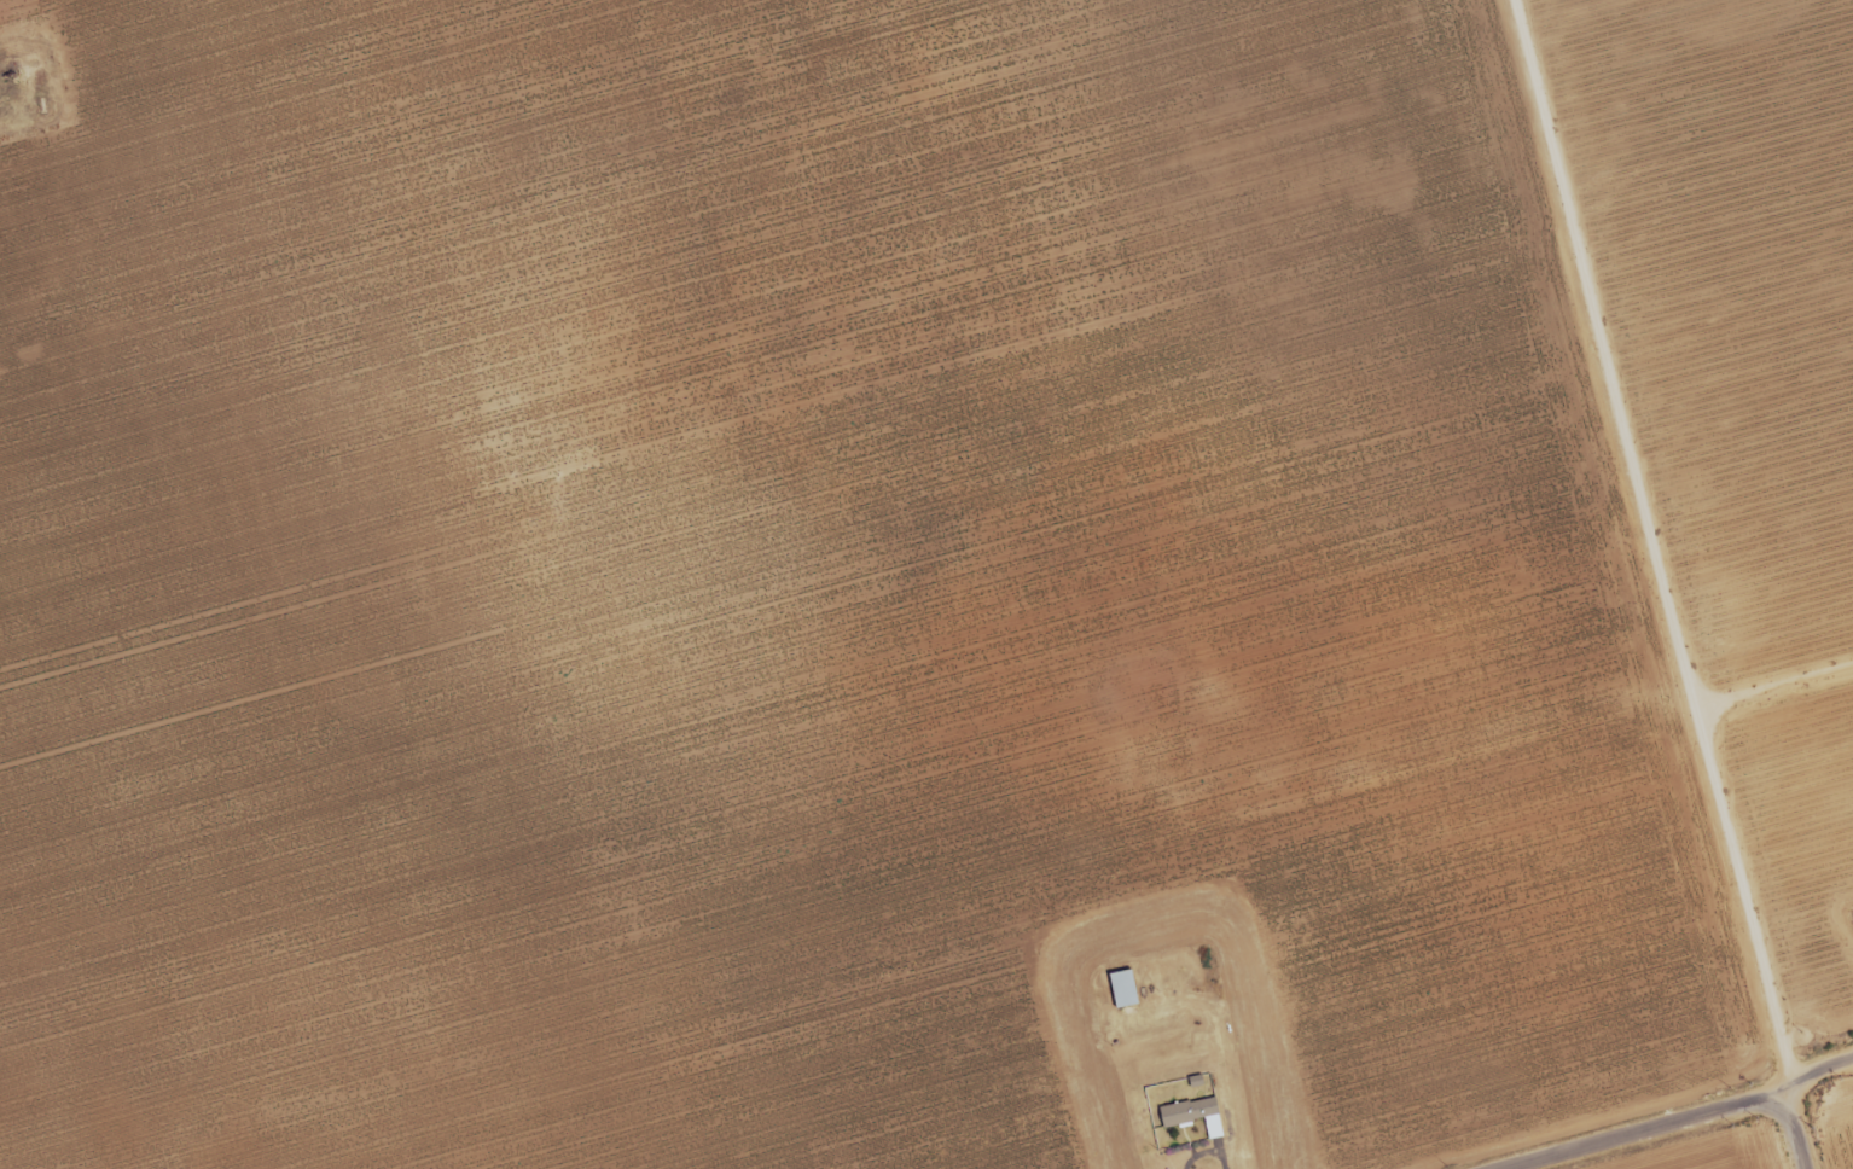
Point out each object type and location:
road: (1651, 543)
building: (1123, 988)
building: (1193, 1115)
road: (1675, 1118)
road: (1791, 1127)

